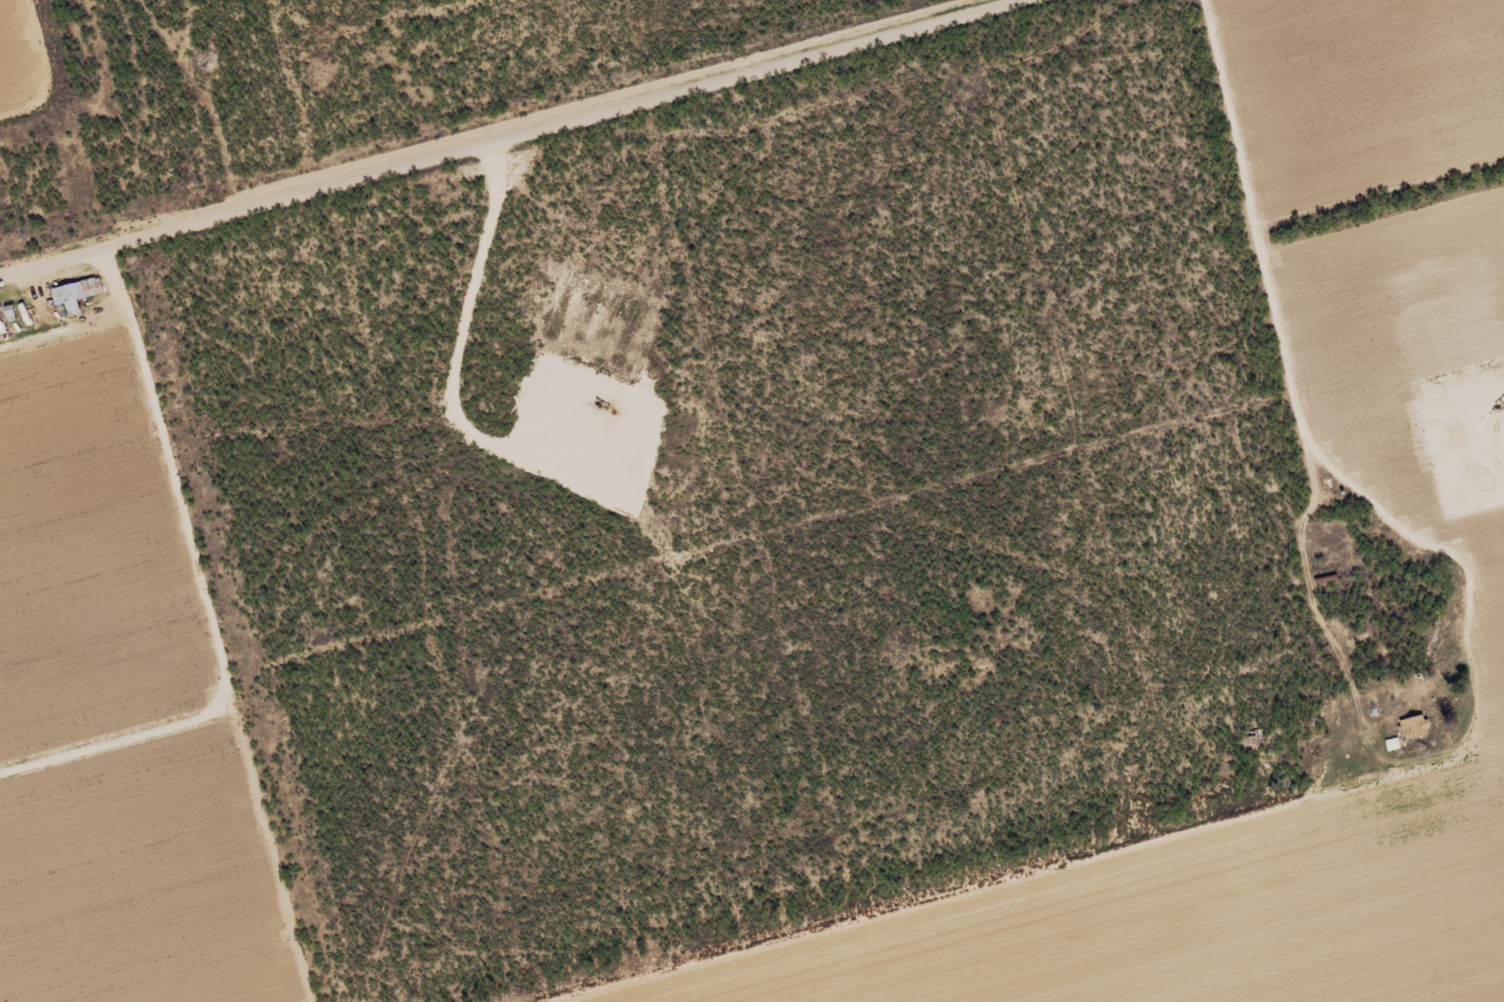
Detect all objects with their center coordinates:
building: (205, 60)
road: (530, 139)
building: (76, 294)
road: (93, 325)
road: (1303, 498)
building: (1413, 723)
building: (1254, 738)
building: (1393, 744)

